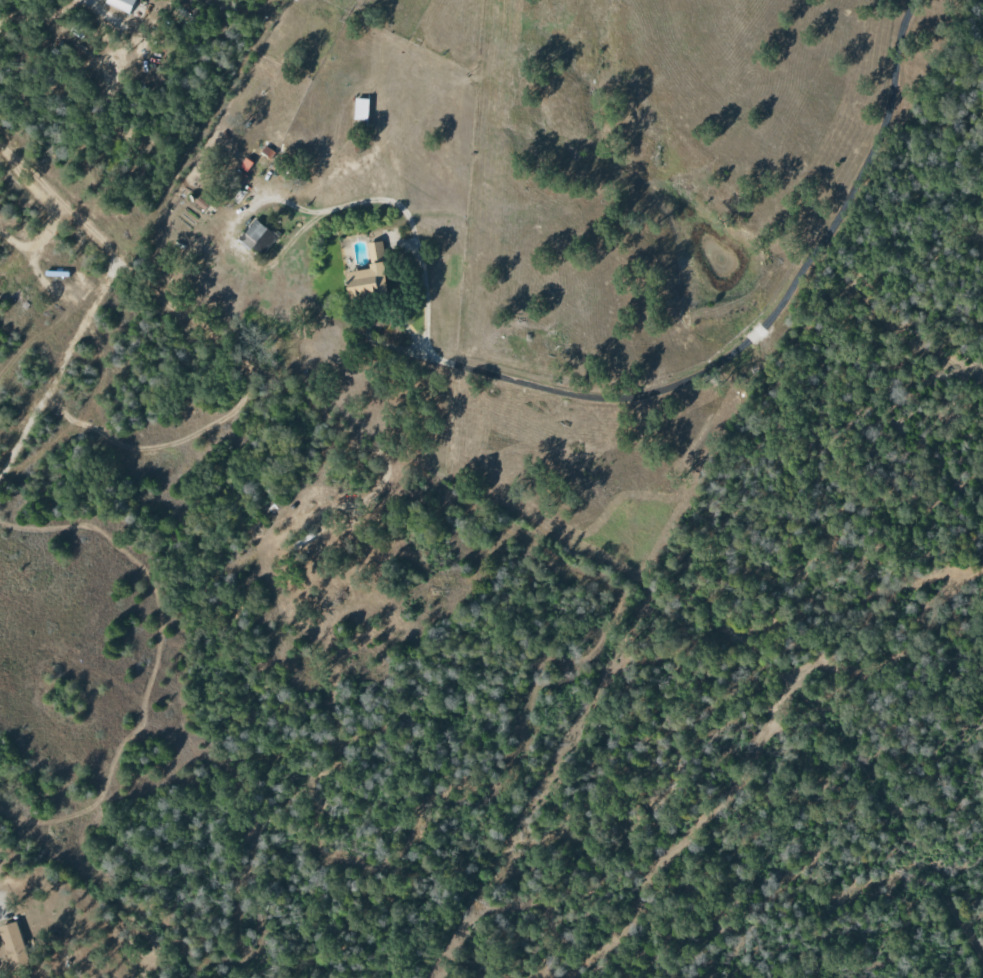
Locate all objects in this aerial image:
building: (121, 4)
road: (88, 25)
building: (360, 108)
road: (238, 181)
building: (257, 237)
building: (368, 274)
road: (102, 356)
road: (628, 400)
building: (13, 945)

